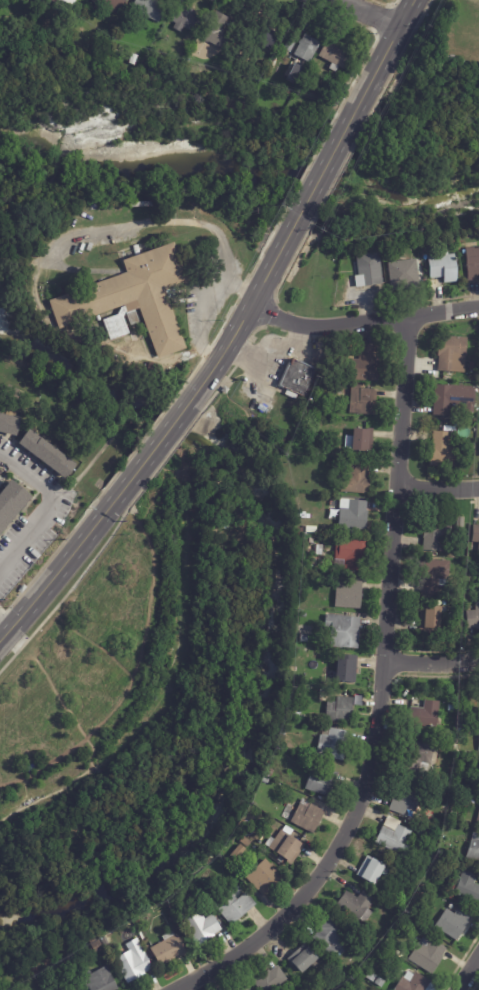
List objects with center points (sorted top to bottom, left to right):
building: (72, 1)
building: (38, 2)
building: (114, 5)
building: (150, 8)
road: (370, 12)
building: (188, 19)
building: (219, 31)
building: (268, 37)
building: (291, 43)
building: (308, 48)
building: (337, 55)
road: (382, 57)
building: (135, 59)
building: (305, 84)
park: (146, 119)
park: (418, 153)
road: (321, 177)
building: (470, 262)
building: (440, 266)
building: (367, 271)
building: (399, 273)
building: (135, 298)
road: (245, 310)
road: (361, 321)
building: (450, 353)
building: (366, 363)
building: (298, 378)
building: (477, 387)
building: (452, 399)
building: (365, 400)
building: (10, 423)
road: (159, 440)
building: (363, 440)
building: (478, 447)
building: (440, 450)
building: (50, 452)
building: (318, 452)
building: (357, 478)
road: (439, 490)
building: (12, 503)
road: (51, 513)
building: (354, 515)
building: (314, 529)
building: (302, 530)
building: (439, 534)
building: (475, 535)
building: (311, 540)
building: (321, 550)
building: (352, 554)
road: (57, 569)
building: (431, 575)
building: (350, 594)
building: (428, 616)
building: (472, 616)
road: (5, 624)
building: (344, 631)
building: (304, 638)
road: (433, 663)
building: (344, 670)
park: (140, 689)
road: (383, 694)
building: (453, 708)
building: (341, 710)
building: (477, 710)
building: (428, 715)
building: (461, 733)
building: (283, 736)
building: (478, 739)
building: (334, 743)
building: (419, 757)
building: (273, 773)
building: (269, 780)
building: (322, 781)
building: (463, 787)
building: (408, 802)
building: (456, 815)
building: (310, 817)
building: (478, 823)
building: (396, 837)
building: (430, 838)
building: (248, 842)
building: (287, 846)
building: (474, 848)
building: (239, 853)
building: (440, 859)
building: (374, 871)
building: (266, 877)
building: (467, 886)
building: (462, 900)
building: (357, 906)
building: (236, 907)
building: (454, 923)
building: (204, 929)
building: (335, 937)
building: (98, 946)
building: (170, 950)
building: (430, 955)
building: (305, 960)
building: (135, 964)
road: (468, 973)
building: (100, 979)
building: (273, 980)
building: (380, 981)
building: (416, 983)
building: (71, 987)
building: (245, 988)
building: (251, 989)
building: (350, 989)

